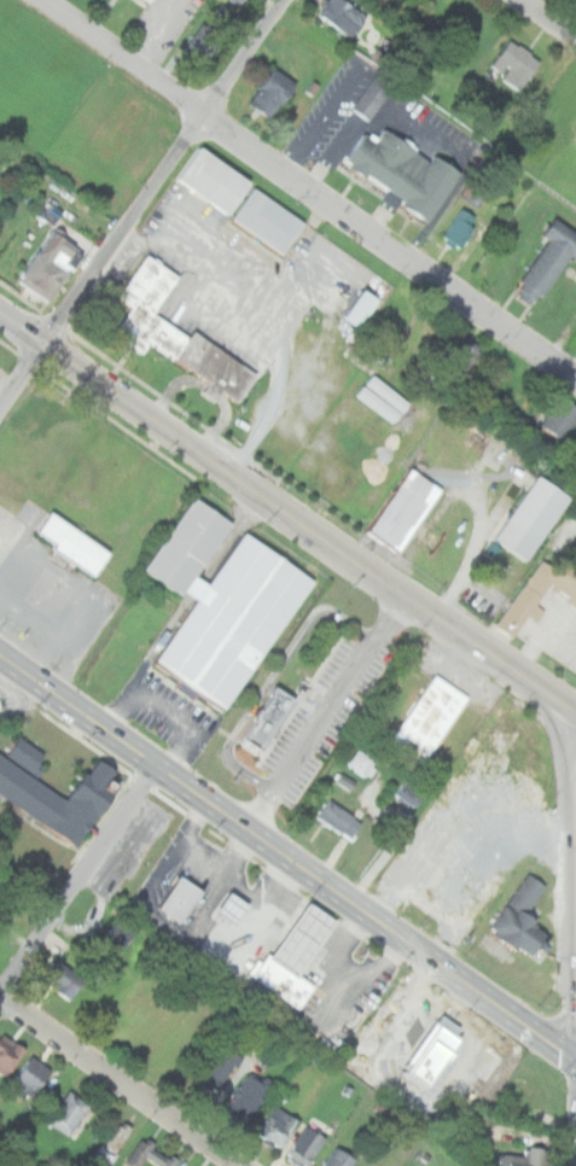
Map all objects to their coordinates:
building: (142, 0)
building: (147, 1)
building: (233, 1)
building: (239, 1)
building: (343, 16)
road: (551, 17)
building: (203, 42)
building: (514, 64)
building: (270, 97)
building: (372, 98)
road: (170, 170)
building: (403, 171)
building: (213, 180)
road: (309, 191)
building: (269, 221)
building: (460, 227)
road: (289, 252)
building: (551, 257)
building: (52, 263)
building: (362, 307)
road: (267, 319)
building: (175, 332)
building: (461, 357)
road: (23, 375)
building: (560, 415)
road: (287, 508)
building: (406, 508)
building: (534, 514)
building: (71, 542)
building: (190, 543)
road: (62, 579)
building: (536, 593)
building: (233, 622)
road: (53, 629)
road: (272, 676)
road: (165, 710)
road: (326, 710)
building: (430, 717)
building: (267, 718)
building: (361, 763)
building: (23, 786)
building: (411, 794)
building: (477, 805)
building: (338, 818)
road: (233, 851)
road: (285, 855)
road: (225, 878)
road: (78, 879)
building: (182, 899)
building: (234, 908)
building: (222, 909)
road: (571, 909)
building: (522, 919)
building: (115, 939)
building: (304, 939)
road: (351, 973)
building: (65, 980)
building: (284, 981)
building: (415, 1034)
building: (435, 1050)
building: (8, 1054)
traffic signals: (571, 1057)
road: (574, 1057)
road: (574, 1061)
building: (220, 1069)
building: (31, 1079)
road: (123, 1080)
road: (574, 1092)
building: (246, 1097)
building: (69, 1113)
building: (277, 1126)
building: (112, 1143)
building: (306, 1147)
building: (150, 1154)
building: (339, 1158)
building: (526, 1158)

